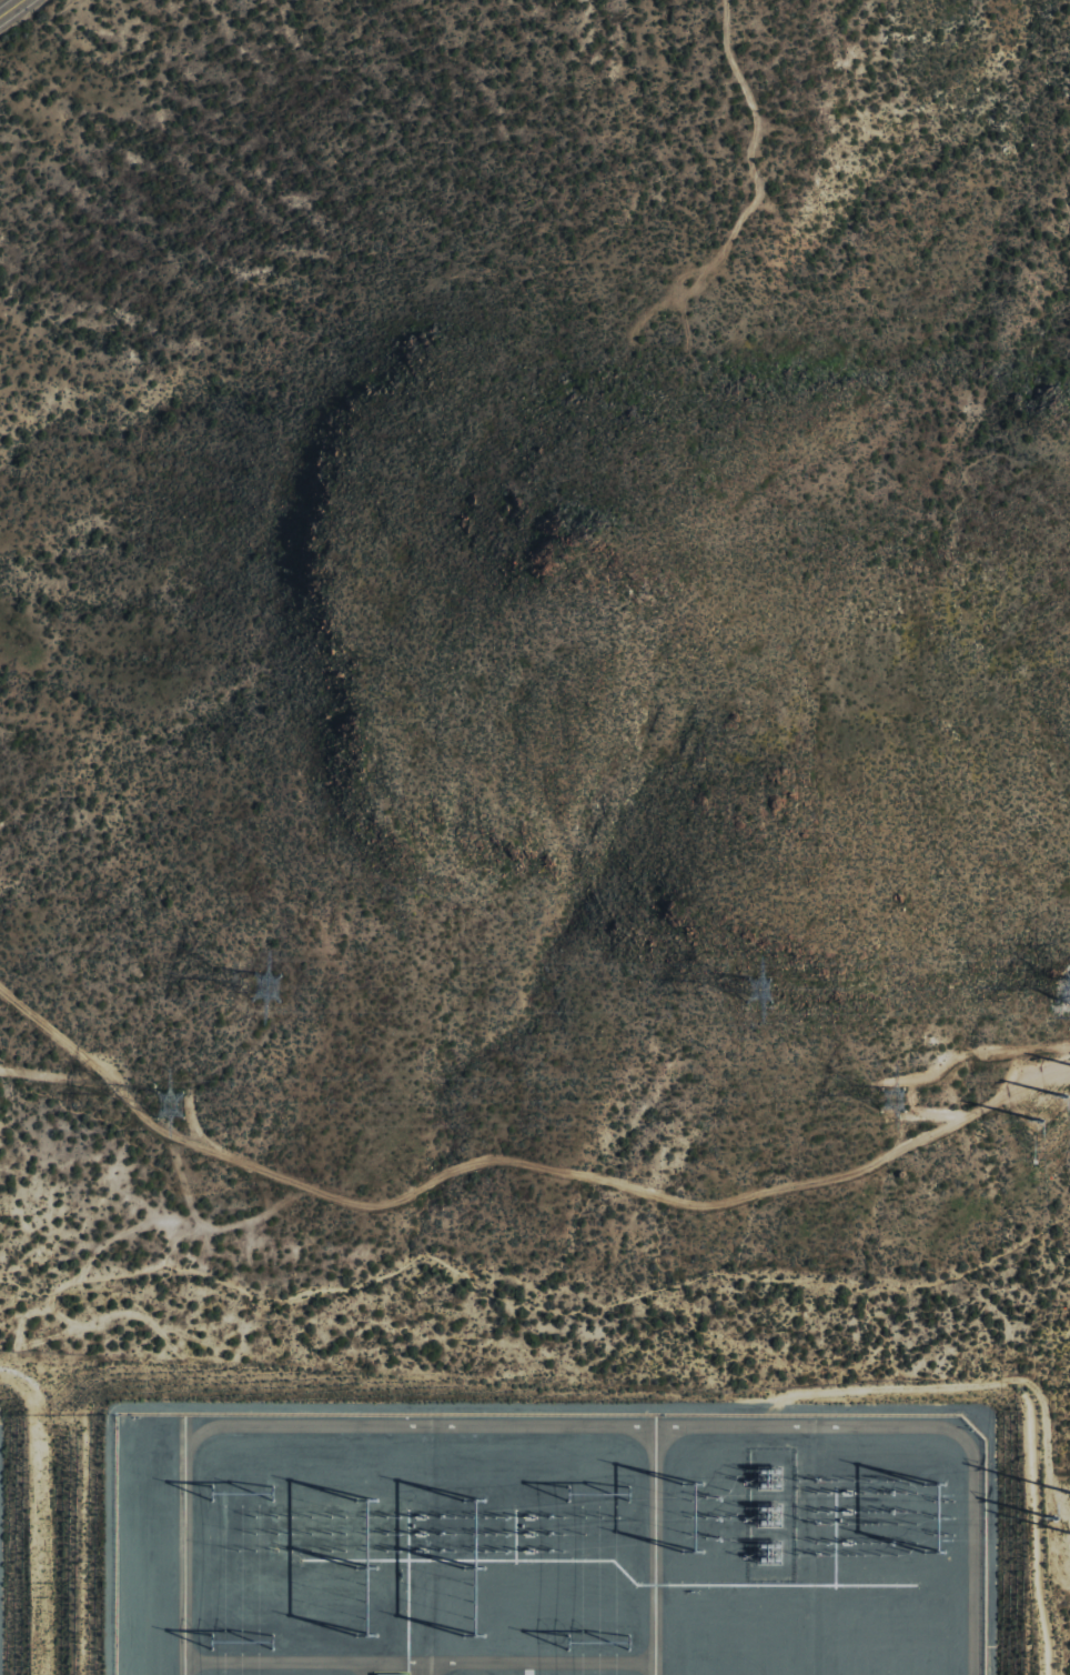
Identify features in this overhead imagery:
road: (11, 8)
power tower: (283, 985)
power tower: (774, 991)
power tower: (170, 1099)
road: (511, 1156)
power substation: (545, 1544)
building: (390, 1674)

